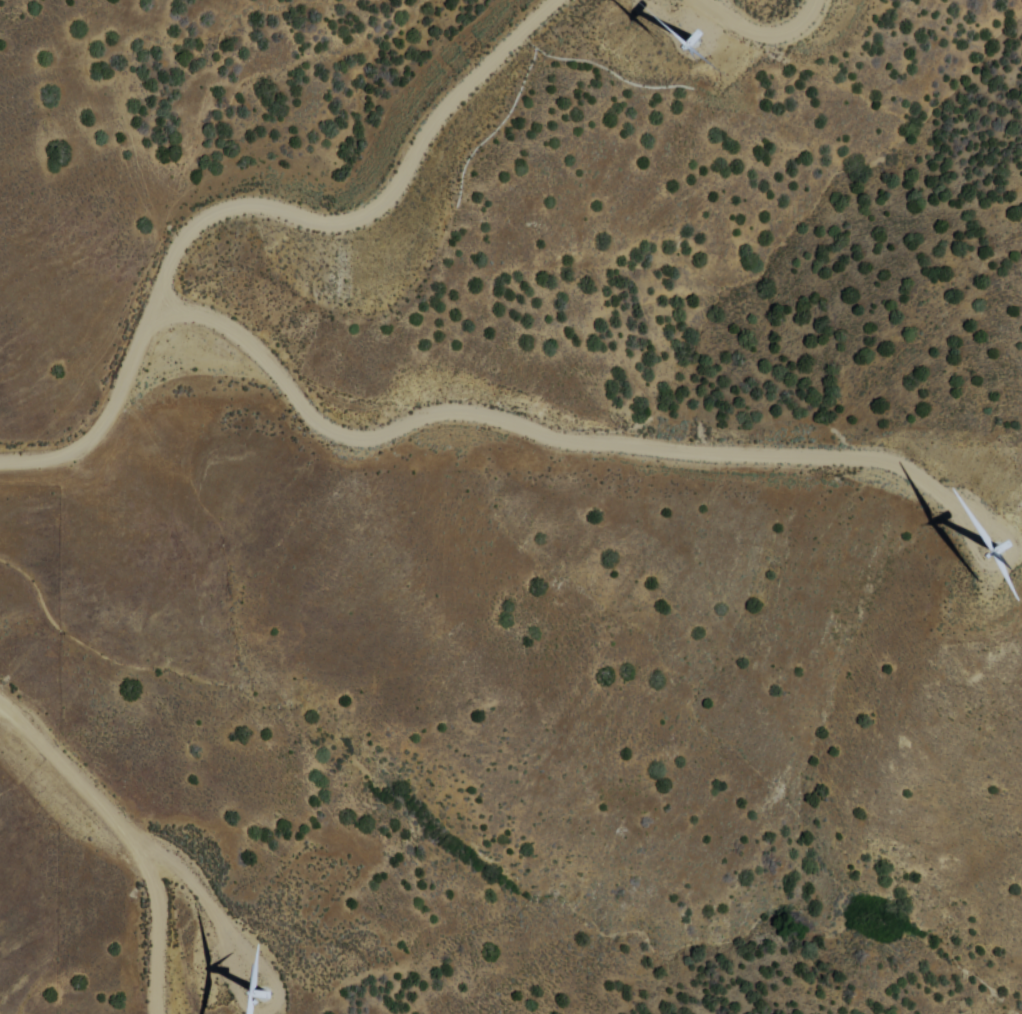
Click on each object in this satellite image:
road: (760, 23)
wind turbine: (698, 35)
road: (260, 202)
road: (505, 416)
wind turbine: (971, 539)
road: (134, 832)
wind turbine: (263, 968)

